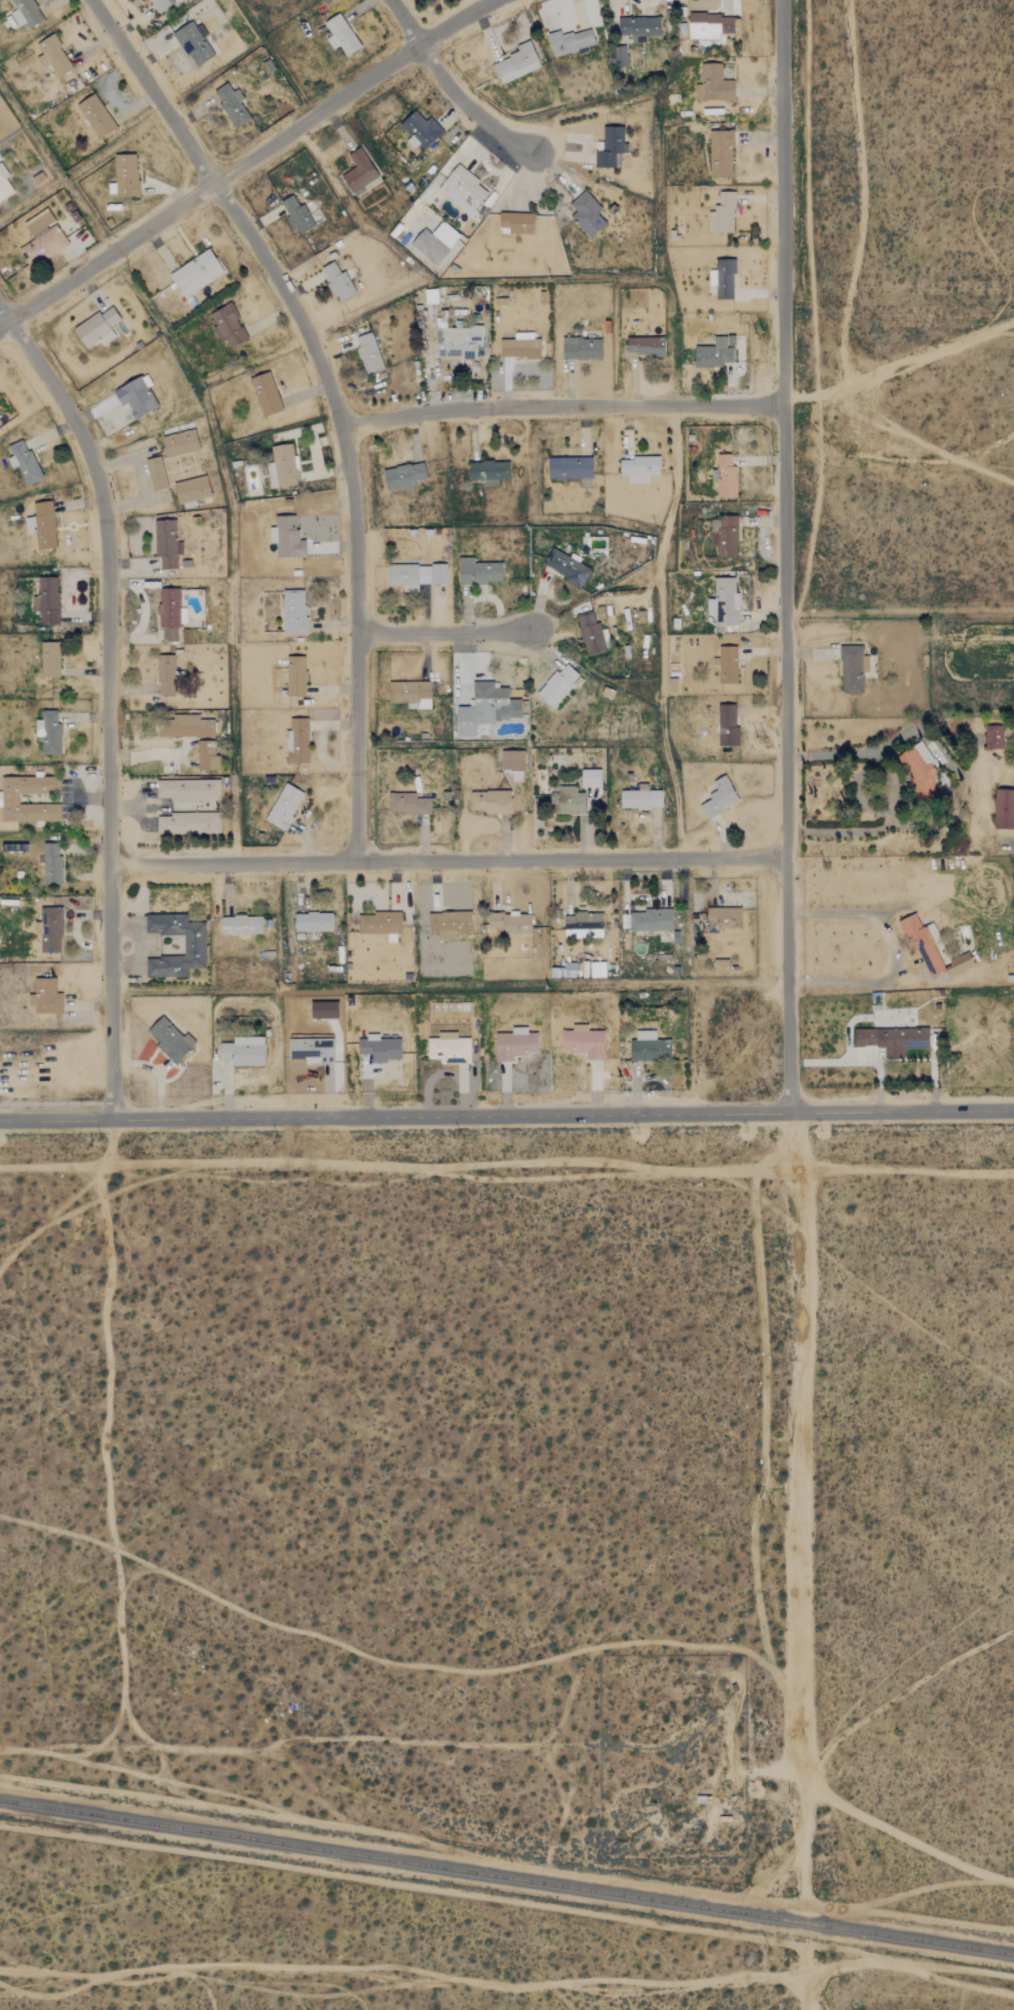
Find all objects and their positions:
building: (160, 4)
building: (25, 12)
building: (638, 26)
building: (710, 26)
building: (340, 33)
building: (570, 40)
building: (193, 43)
building: (53, 55)
building: (619, 56)
building: (517, 62)
building: (714, 83)
road: (452, 88)
building: (231, 104)
building: (96, 115)
building: (420, 129)
building: (611, 147)
building: (720, 153)
road: (246, 162)
building: (358, 170)
building: (126, 174)
building: (4, 184)
building: (462, 188)
building: (586, 213)
building: (722, 213)
building: (296, 214)
building: (39, 222)
building: (515, 222)
building: (435, 241)
building: (43, 244)
building: (195, 273)
building: (723, 278)
building: (338, 281)
building: (228, 325)
building: (97, 327)
power tower: (756, 331)
building: (457, 341)
building: (644, 345)
building: (519, 348)
building: (581, 348)
building: (368, 352)
building: (715, 352)
building: (265, 393)
building: (136, 396)
road: (334, 397)
road: (562, 405)
building: (180, 442)
building: (23, 461)
building: (283, 465)
building: (570, 467)
building: (639, 468)
building: (488, 471)
building: (156, 473)
building: (403, 476)
building: (726, 476)
building: (192, 489)
building: (41, 524)
building: (286, 537)
building: (726, 537)
building: (166, 543)
road: (784, 554)
building: (566, 567)
building: (478, 571)
building: (416, 574)
building: (47, 600)
building: (723, 602)
road: (900, 610)
building: (294, 611)
building: (169, 613)
road: (443, 632)
building: (590, 634)
building: (49, 659)
building: (727, 664)
building: (852, 668)
building: (166, 675)
building: (296, 676)
building: (558, 684)
building: (410, 693)
road: (107, 698)
building: (486, 707)
building: (727, 725)
building: (184, 726)
building: (48, 731)
building: (994, 737)
power tower: (762, 739)
building: (297, 740)
road: (836, 754)
building: (207, 756)
building: (512, 759)
building: (921, 772)
building: (591, 778)
building: (188, 790)
building: (719, 797)
building: (10, 798)
building: (640, 799)
building: (490, 800)
building: (567, 800)
building: (407, 803)
building: (284, 806)
building: (1004, 809)
building: (188, 822)
road: (447, 860)
building: (51, 863)
building: (724, 917)
building: (650, 920)
building: (312, 922)
building: (379, 922)
building: (509, 922)
building: (449, 923)
building: (580, 923)
building: (241, 924)
building: (50, 929)
building: (924, 942)
building: (193, 946)
road: (892, 950)
building: (959, 964)
building: (45, 999)
building: (170, 1039)
building: (891, 1039)
building: (583, 1041)
building: (514, 1043)
building: (649, 1046)
building: (379, 1047)
building: (448, 1048)
building: (311, 1049)
building: (243, 1050)
power tower: (764, 1091)
road: (55, 1103)
road: (507, 1114)
power tower: (766, 1503)
road: (802, 1559)
power tower: (764, 1859)
railway: (506, 1878)

